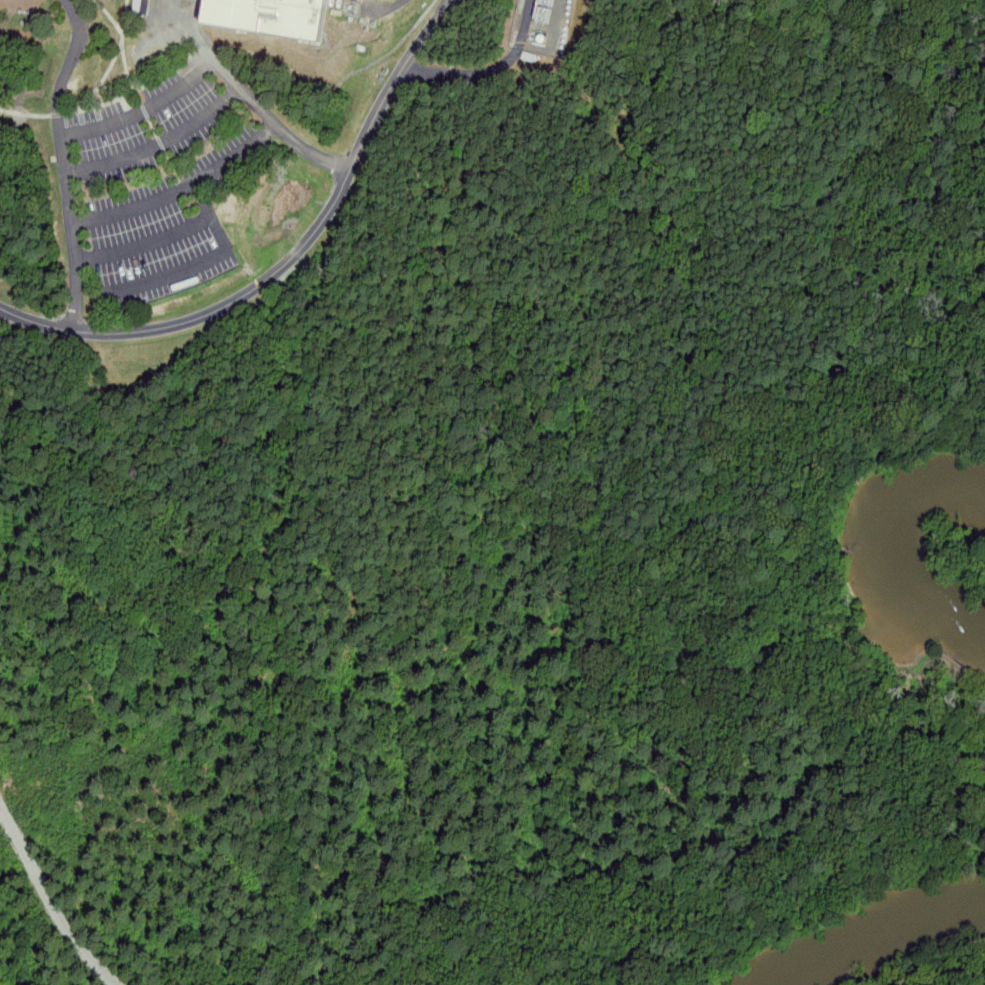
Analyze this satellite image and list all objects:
building: (542, 3)
road: (215, 61)
road: (160, 145)
road: (65, 160)
parking lot: (164, 181)
road: (183, 188)
road: (202, 200)
road: (224, 244)
road: (287, 261)
river: (899, 553)
road: (51, 901)
river: (901, 946)

